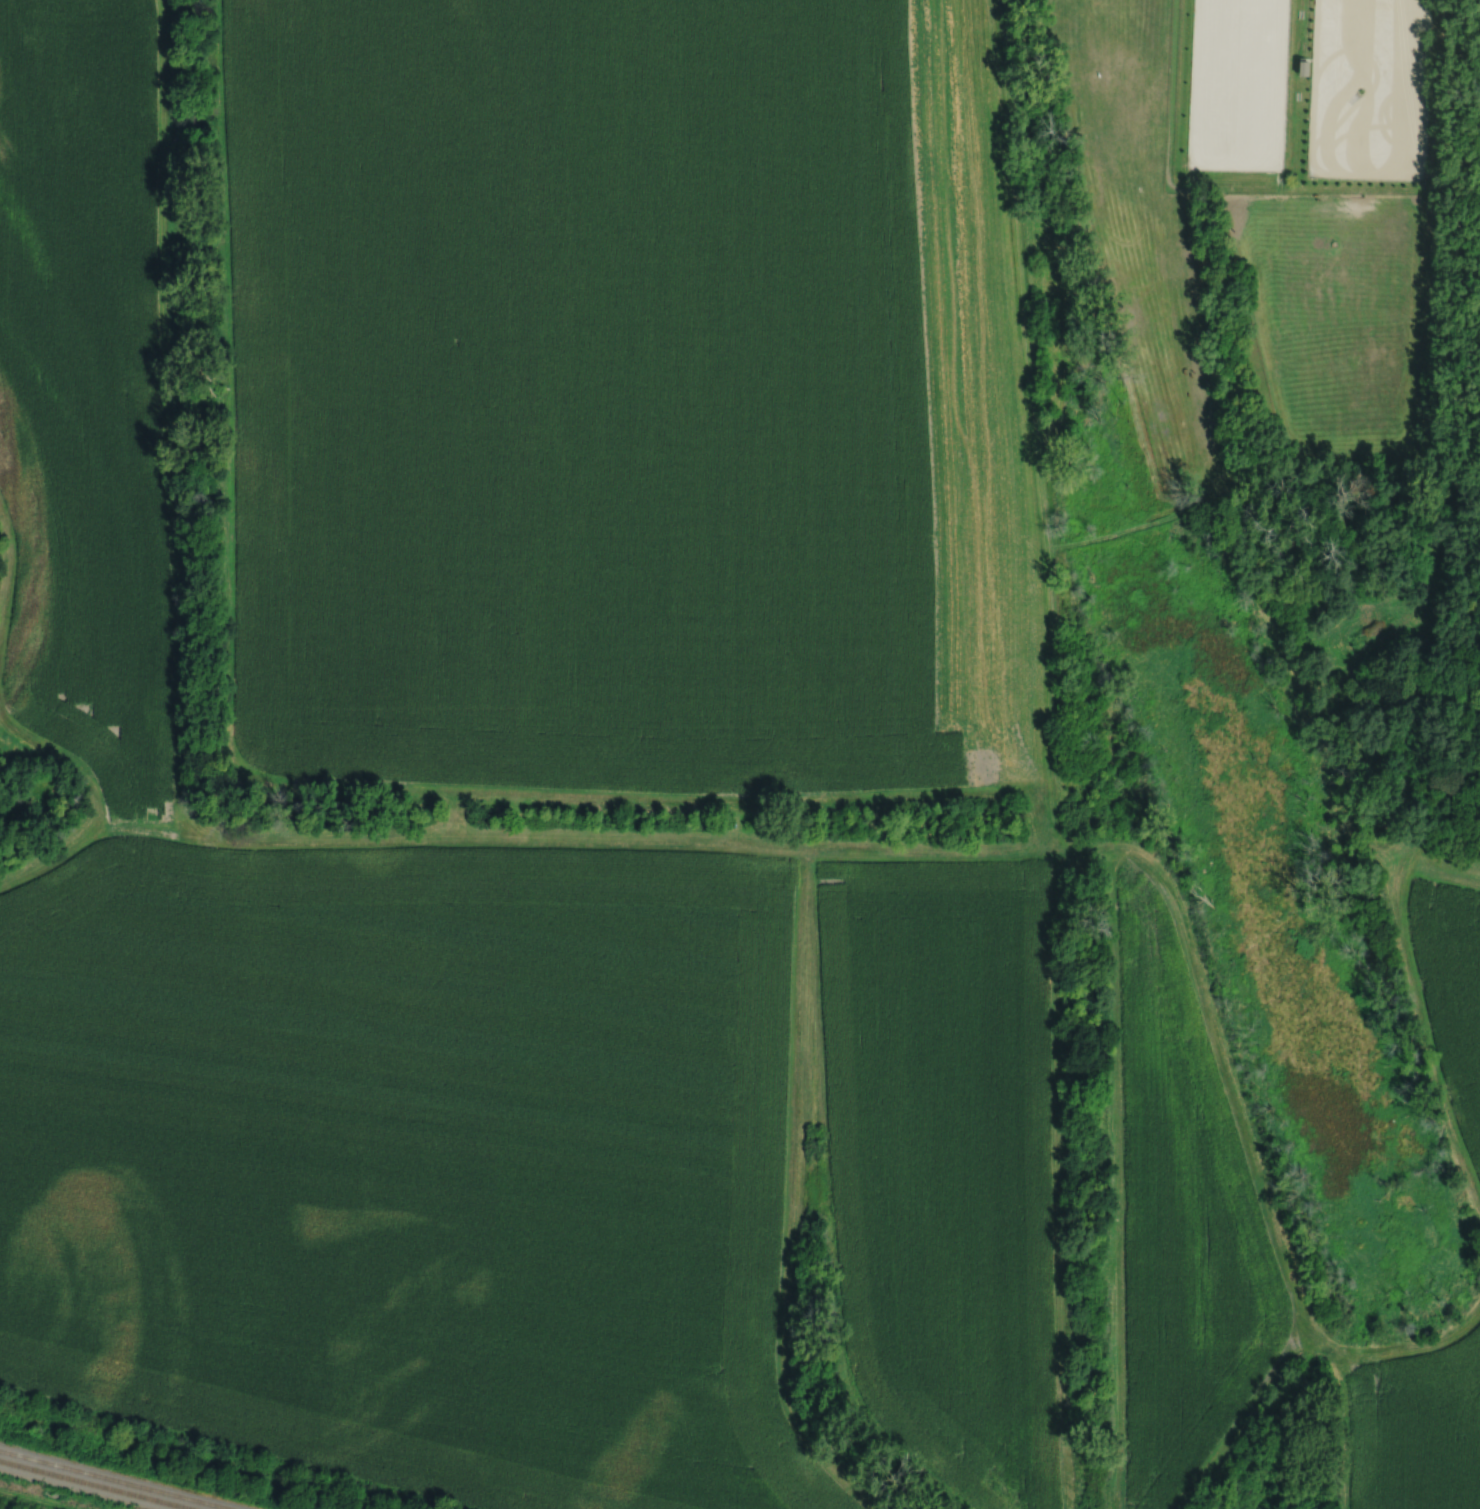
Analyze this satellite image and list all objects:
road: (1423, 334)
road: (1454, 461)
road: (1468, 488)
railway: (113, 1480)
railway: (96, 1484)

